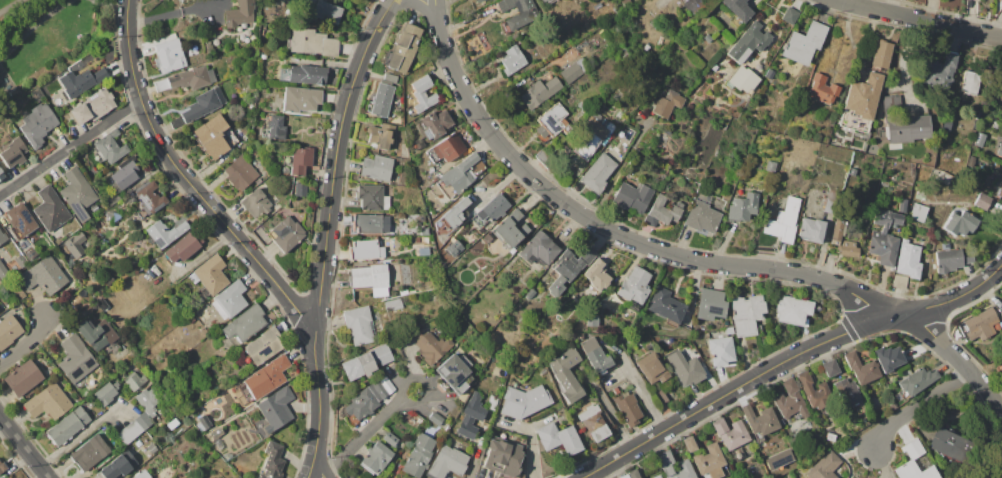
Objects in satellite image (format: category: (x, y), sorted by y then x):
building: (478, 1)
building: (550, 1)
park: (3, 2)
building: (625, 3)
road: (390, 5)
road: (416, 5)
road: (11, 6)
building: (691, 7)
building: (737, 9)
building: (320, 11)
road: (177, 13)
building: (241, 13)
road: (436, 13)
building: (527, 16)
building: (789, 16)
road: (918, 16)
road: (34, 28)
building: (711, 30)
building: (247, 33)
building: (213, 41)
park: (47, 42)
building: (311, 42)
building: (748, 43)
building: (803, 43)
building: (402, 48)
building: (645, 48)
building: (881, 54)
building: (169, 56)
building: (625, 56)
building: (511, 60)
building: (575, 70)
building: (940, 71)
building: (769, 73)
building: (304, 74)
building: (1000, 75)
building: (187, 79)
building: (743, 79)
building: (80, 82)
building: (969, 83)
building: (1000, 83)
building: (822, 89)
building: (539, 93)
building: (36, 94)
building: (422, 95)
building: (382, 96)
building: (1000, 98)
building: (300, 99)
building: (52, 102)
building: (861, 102)
building: (665, 103)
building: (203, 105)
building: (93, 107)
road: (118, 115)
building: (550, 123)
building: (903, 123)
building: (38, 124)
building: (435, 124)
building: (276, 127)
building: (666, 130)
building: (593, 134)
building: (216, 136)
building: (383, 137)
building: (979, 139)
building: (109, 147)
building: (446, 148)
building: (999, 151)
building: (14, 152)
building: (297, 160)
road: (48, 163)
building: (980, 163)
building: (771, 165)
building: (376, 168)
building: (431, 169)
building: (852, 172)
building: (974, 172)
building: (124, 173)
building: (240, 173)
building: (597, 173)
building: (459, 174)
building: (1, 176)
building: (431, 176)
road: (188, 180)
building: (258, 181)
building: (884, 183)
building: (998, 187)
building: (301, 189)
building: (78, 193)
building: (632, 196)
building: (150, 198)
building: (372, 198)
building: (113, 199)
building: (830, 201)
building: (983, 201)
building: (255, 202)
building: (902, 205)
building: (742, 207)
building: (95, 209)
building: (490, 210)
building: (51, 211)
building: (662, 211)
building: (918, 212)
building: (702, 214)
building: (451, 217)
building: (21, 218)
building: (420, 218)
building: (783, 221)
building: (368, 223)
building: (960, 223)
building: (811, 229)
road: (328, 230)
building: (510, 230)
building: (422, 231)
building: (837, 231)
building: (165, 232)
building: (287, 234)
building: (3, 237)
building: (884, 237)
building: (76, 244)
building: (183, 247)
building: (453, 248)
building: (538, 249)
building: (848, 249)
building: (365, 250)
building: (512, 250)
building: (446, 253)
building: (863, 253)
road: (693, 257)
building: (951, 258)
building: (908, 259)
building: (21, 261)
building: (568, 269)
building: (3, 272)
building: (210, 275)
building: (43, 276)
building: (597, 276)
building: (371, 278)
building: (899, 281)
building: (635, 286)
building: (411, 291)
building: (403, 292)
building: (530, 293)
building: (229, 300)
building: (198, 302)
building: (102, 304)
building: (393, 305)
building: (710, 305)
building: (1000, 306)
building: (666, 307)
building: (792, 310)
building: (1001, 313)
building: (204, 315)
building: (746, 315)
building: (190, 319)
building: (592, 321)
building: (244, 324)
building: (979, 324)
building: (358, 325)
building: (8, 331)
building: (98, 335)
road: (26, 343)
building: (263, 346)
building: (430, 346)
building: (721, 351)
building: (596, 354)
building: (131, 356)
road: (788, 358)
building: (888, 358)
building: (1001, 358)
building: (76, 359)
building: (366, 362)
building: (1001, 363)
building: (1001, 367)
building: (652, 368)
building: (830, 368)
building: (861, 368)
building: (688, 371)
building: (455, 373)
building: (566, 374)
building: (267, 377)
building: (22, 379)
road: (422, 379)
building: (601, 379)
building: (135, 381)
building: (915, 382)
building: (616, 390)
building: (814, 391)
building: (847, 391)
building: (106, 393)
building: (241, 394)
building: (150, 399)
building: (368, 399)
building: (790, 400)
building: (47, 402)
building: (524, 402)
road: (917, 404)
building: (276, 408)
building: (627, 408)
building: (471, 415)
building: (435, 419)
building: (760, 420)
building: (202, 423)
building: (593, 423)
building: (68, 426)
building: (134, 428)
building: (216, 433)
building: (730, 433)
road: (82, 434)
road: (363, 437)
building: (390, 438)
building: (558, 438)
building: (218, 444)
building: (689, 444)
building: (948, 444)
road: (25, 445)
building: (151, 448)
building: (89, 453)
building: (418, 456)
building: (502, 456)
building: (376, 458)
building: (272, 461)
building: (709, 461)
building: (446, 462)
building: (915, 463)
building: (118, 465)
building: (685, 466)
building: (824, 466)
building: (2, 467)
road: (311, 469)
road: (318, 469)
building: (633, 473)
building: (18, 474)
building: (142, 474)
building: (624, 476)
building: (657, 476)

